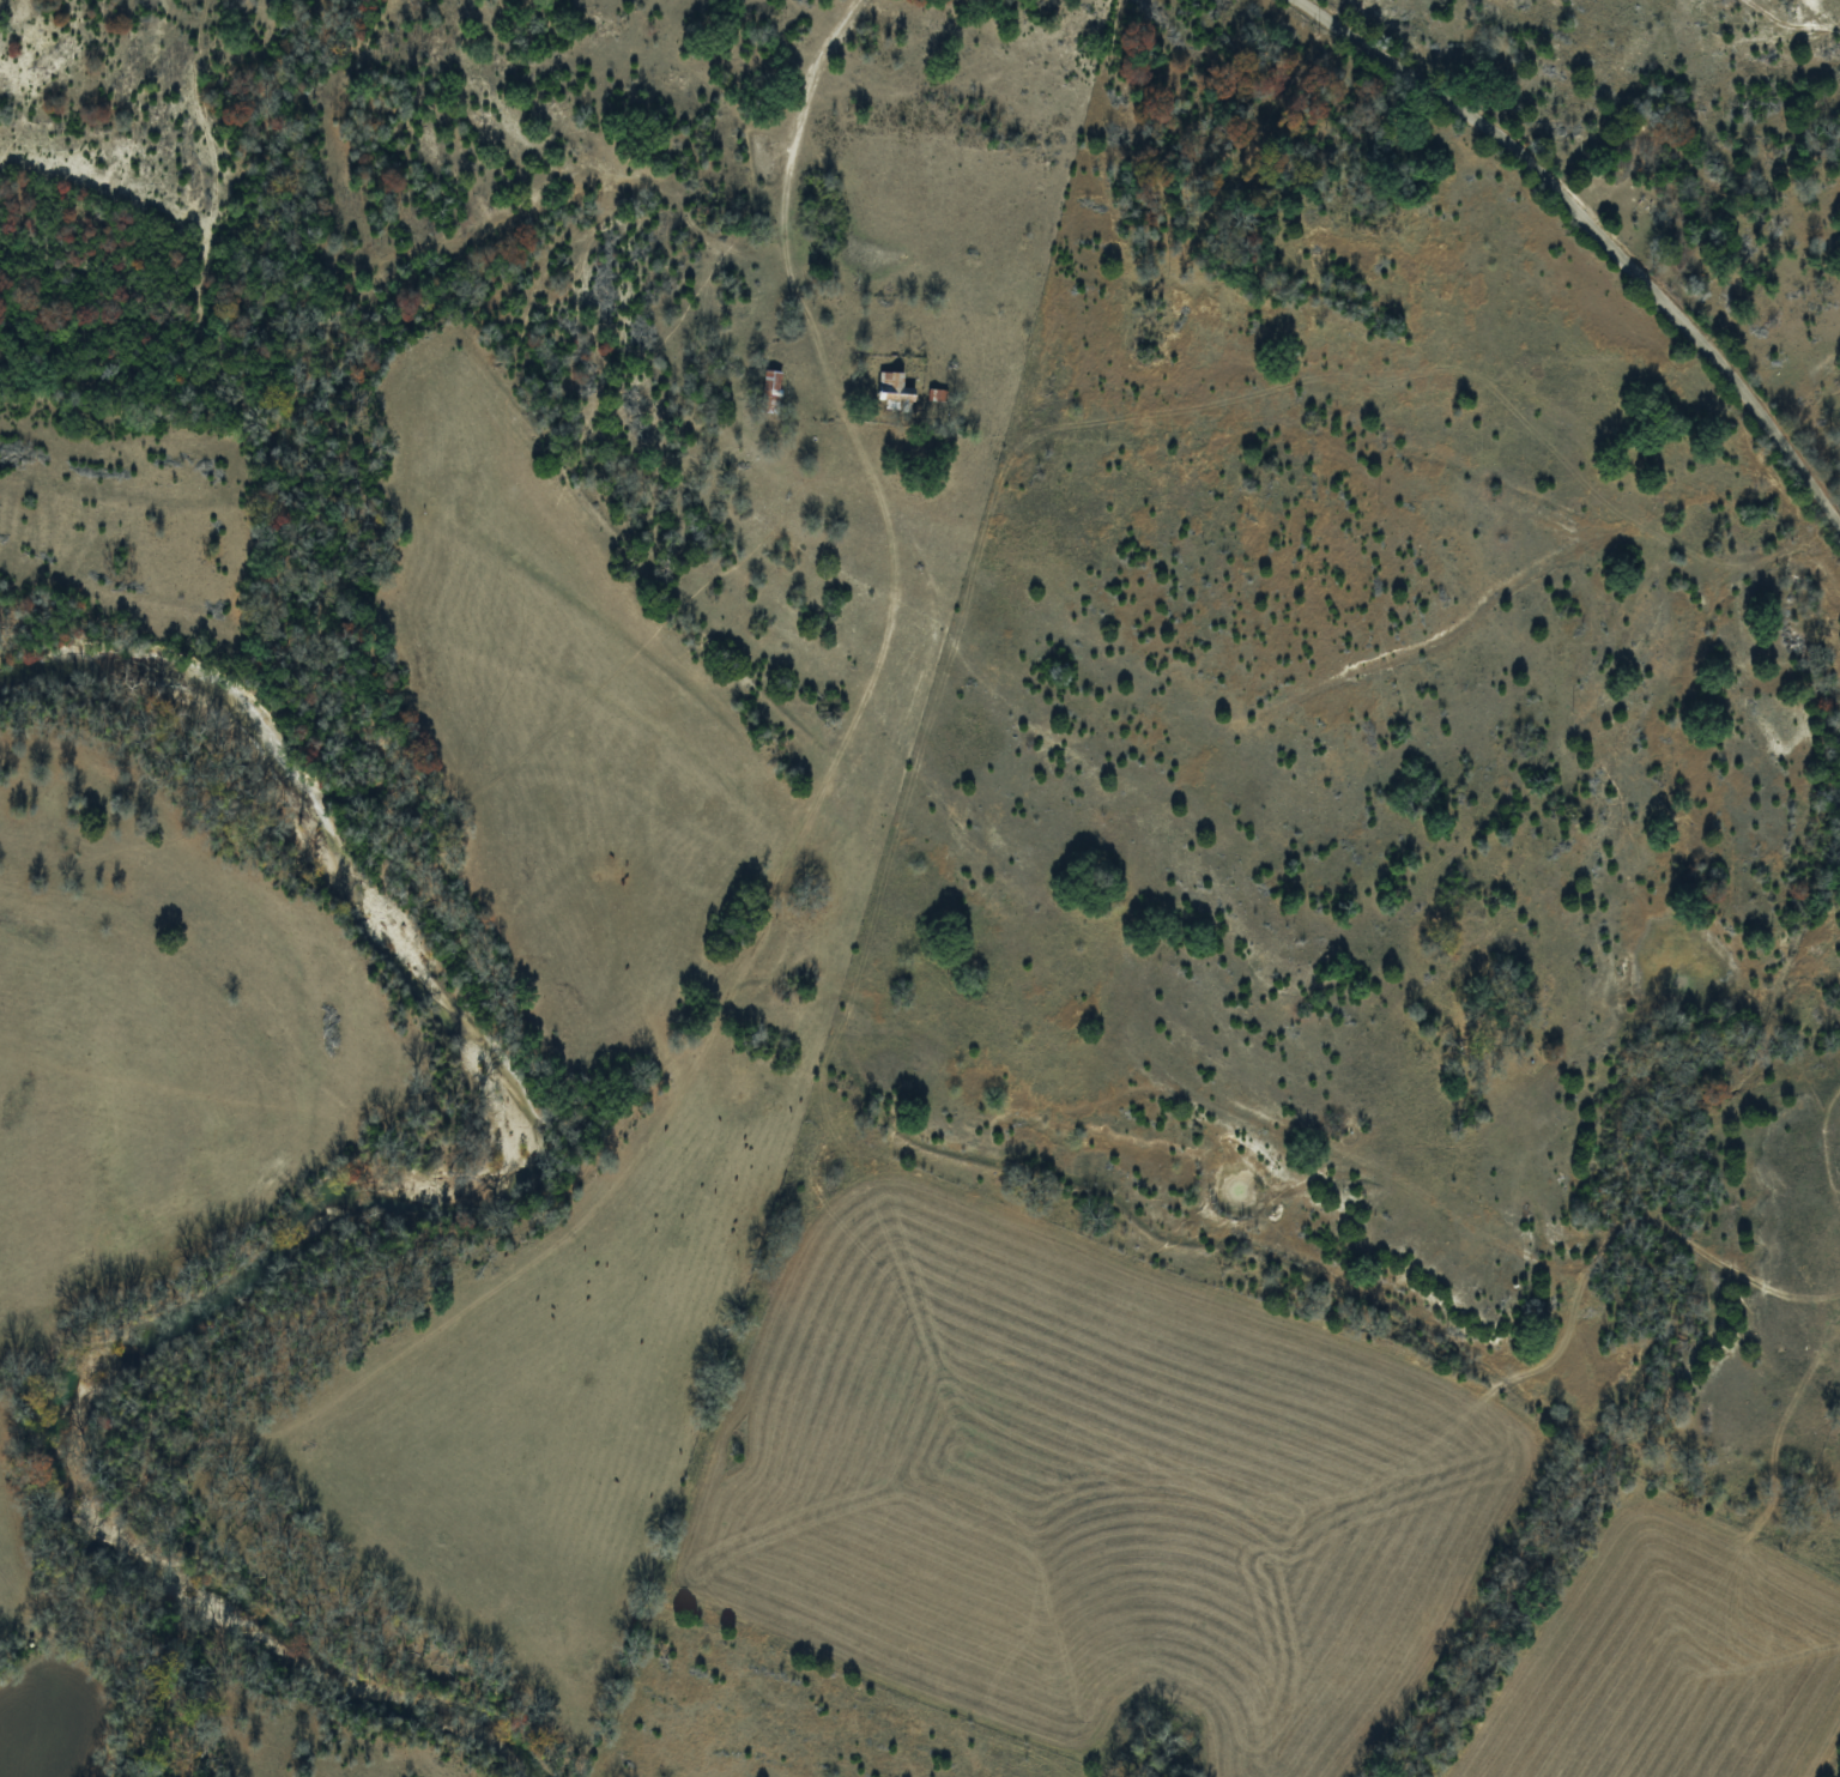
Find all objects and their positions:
park: (1642, 213)
road: (1600, 232)
building: (896, 389)
building: (771, 392)

